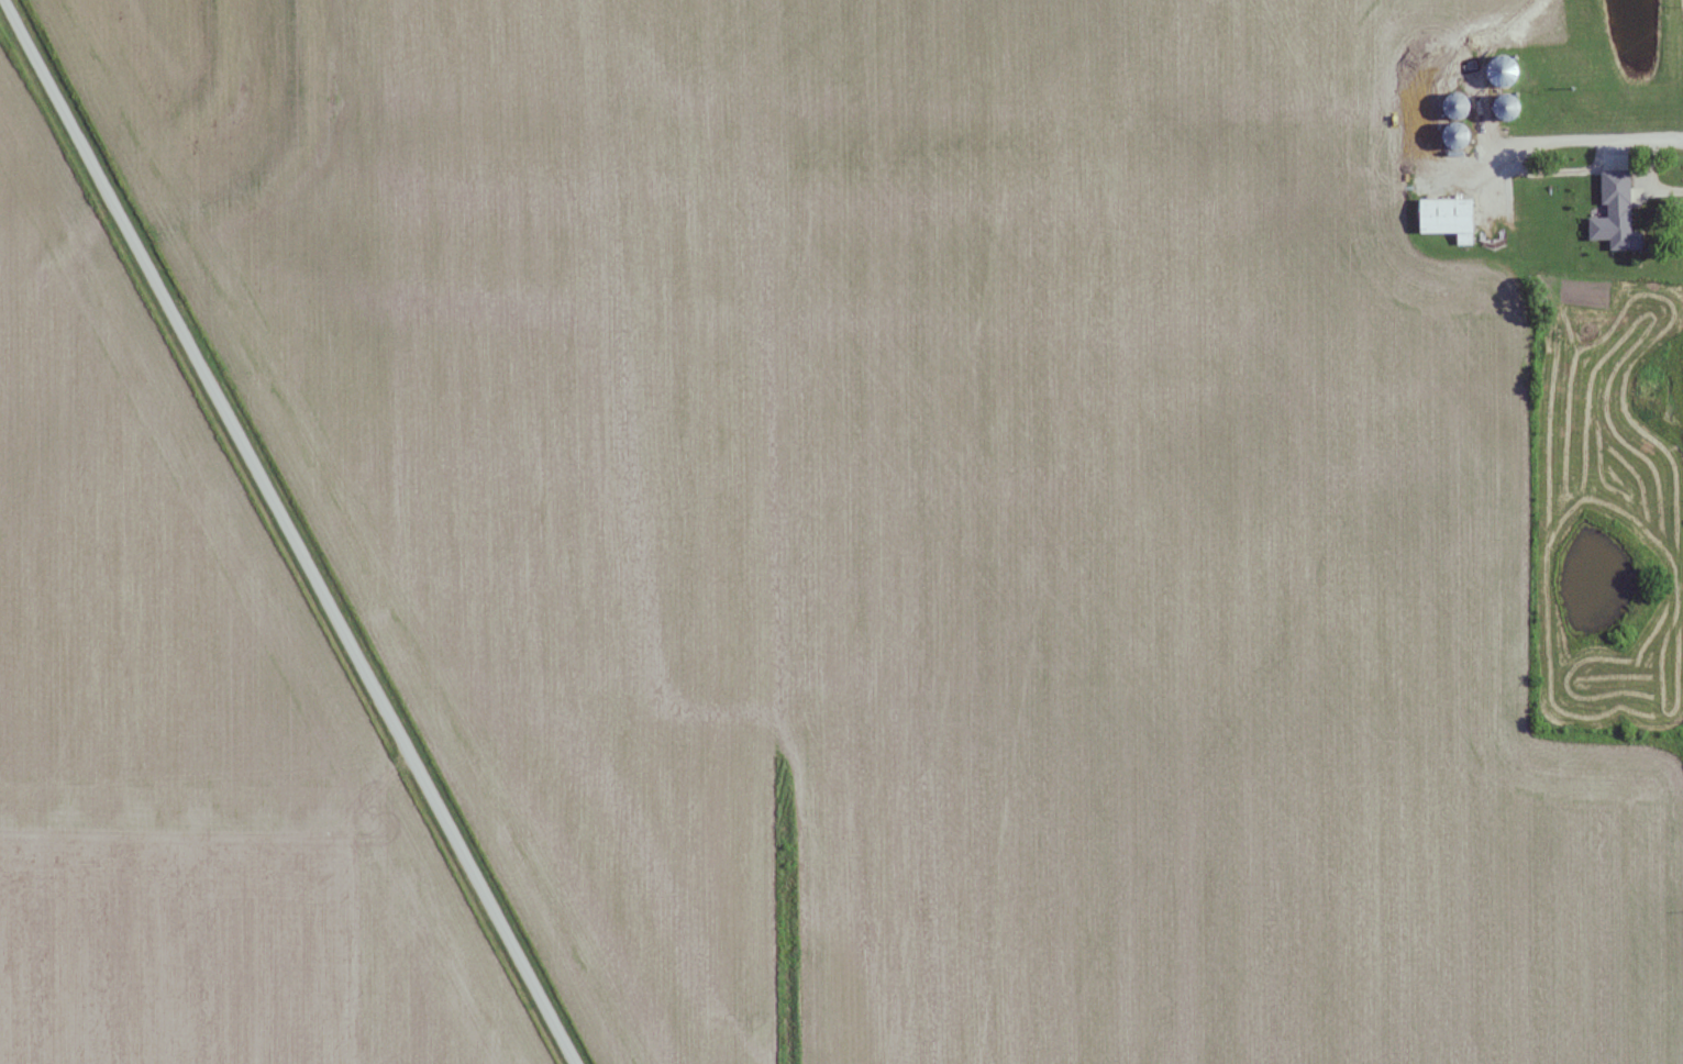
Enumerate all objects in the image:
building: (1490, 67)
building: (1453, 103)
building: (1502, 106)
building: (1426, 110)
building: (1452, 134)
building: (1446, 217)
building: (1612, 220)
road: (289, 532)

